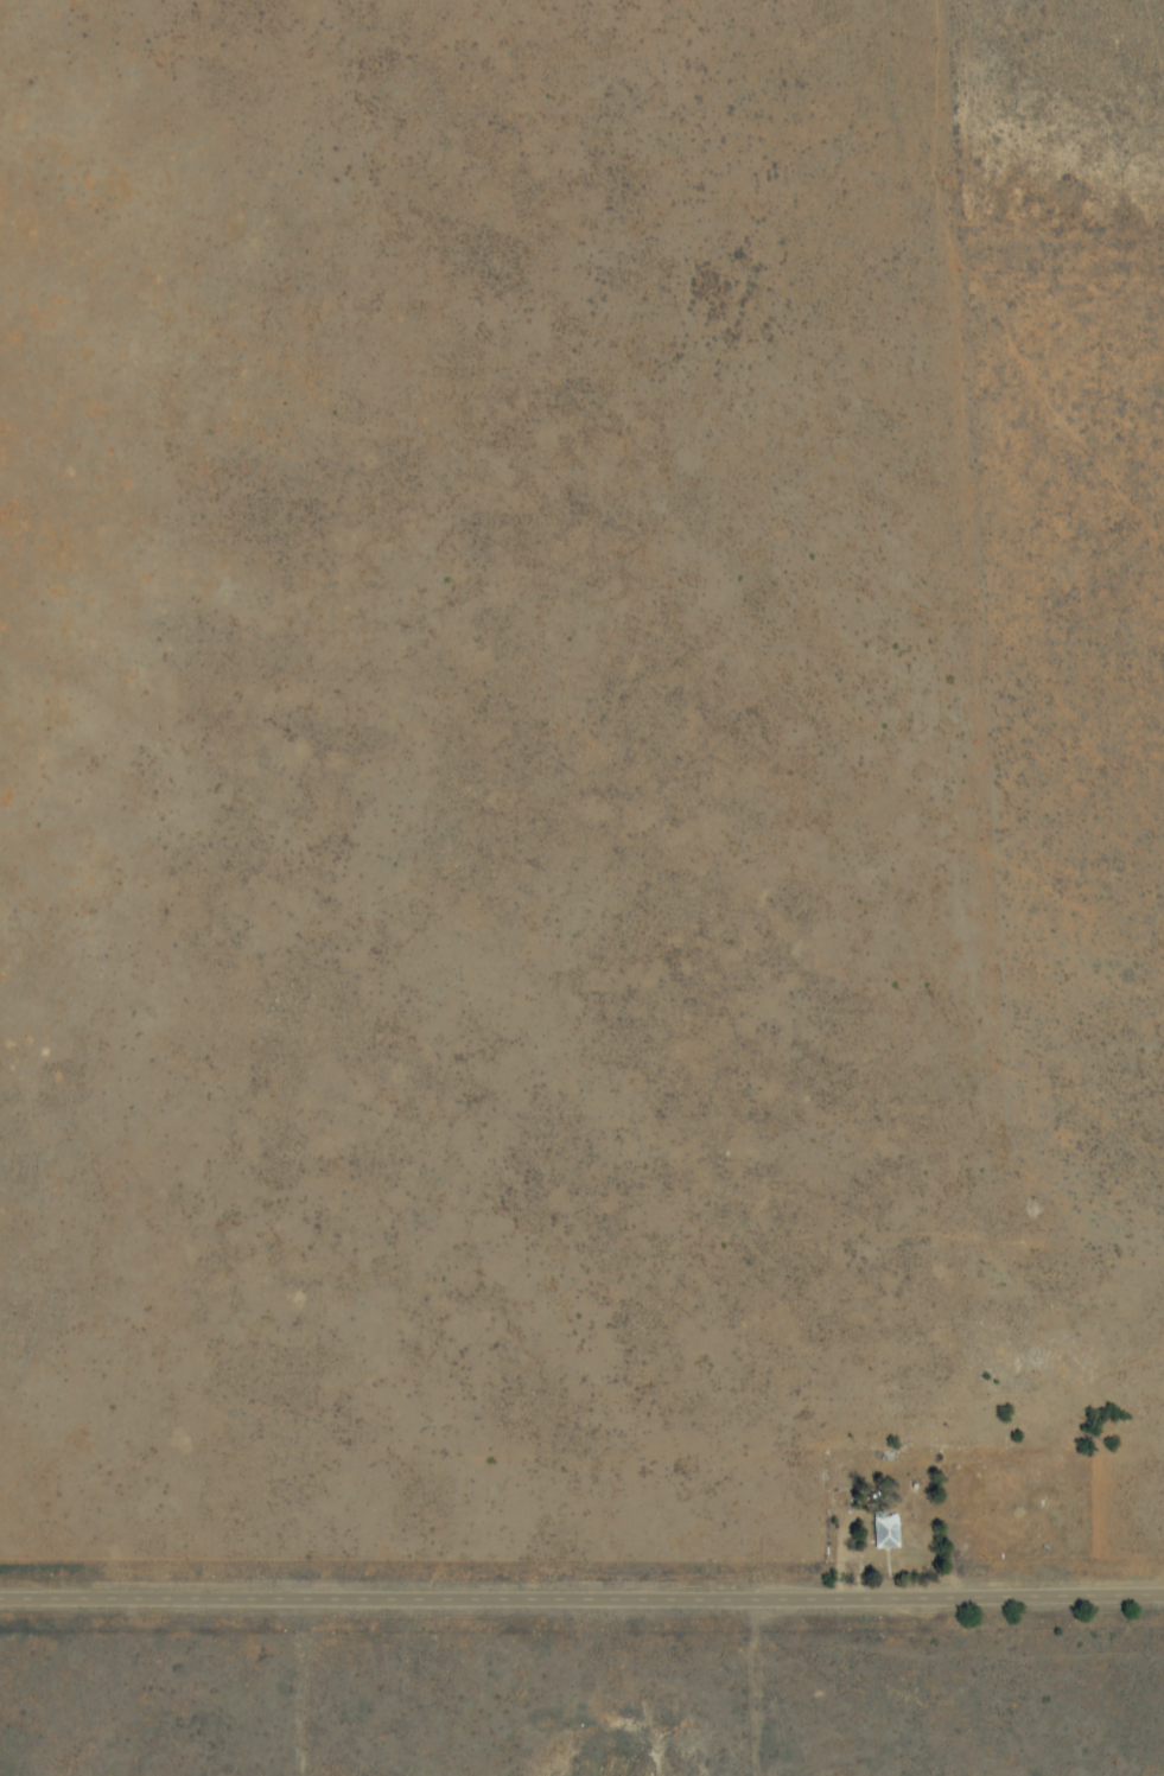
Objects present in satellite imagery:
building: (886, 1529)
road: (581, 1600)

